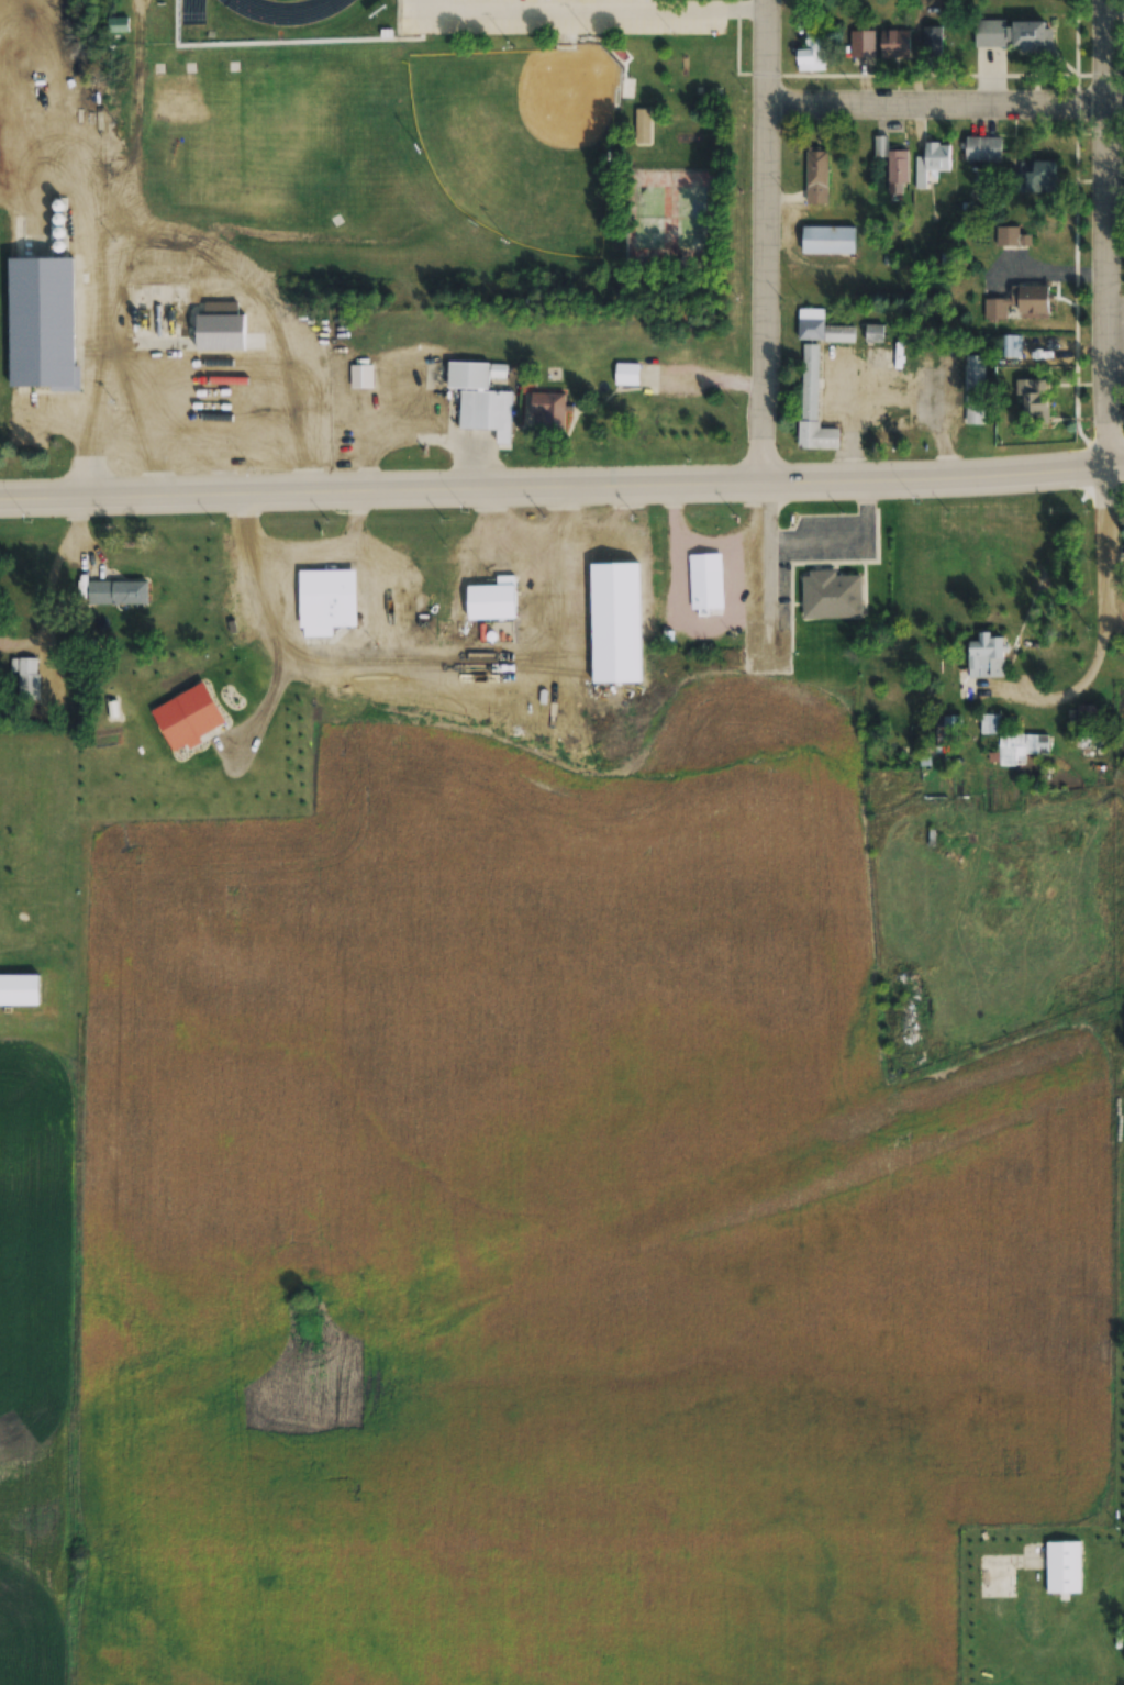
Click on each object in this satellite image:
building: (804, 1)
track: (287, 10)
track: (191, 11)
building: (119, 25)
building: (991, 33)
building: (1031, 37)
building: (932, 42)
building: (894, 44)
building: (863, 47)
building: (812, 49)
road: (947, 109)
building: (643, 126)
park: (521, 137)
building: (983, 149)
building: (932, 164)
building: (898, 166)
building: (817, 176)
building: (1037, 177)
park: (669, 214)
road: (1112, 234)
building: (1012, 237)
building: (828, 240)
road: (768, 242)
building: (1017, 302)
building: (42, 322)
building: (185, 322)
building: (820, 326)
building: (1011, 346)
building: (626, 375)
building: (361, 377)
building: (975, 390)
building: (1033, 399)
building: (478, 400)
building: (813, 404)
building: (549, 411)
road: (583, 489)
road: (21, 502)
road: (1109, 568)
building: (706, 589)
building: (122, 592)
building: (831, 595)
building: (615, 599)
building: (492, 600)
building: (326, 601)
building: (986, 655)
building: (24, 679)
building: (1088, 713)
building: (949, 720)
building: (1014, 743)
building: (1064, 1566)

